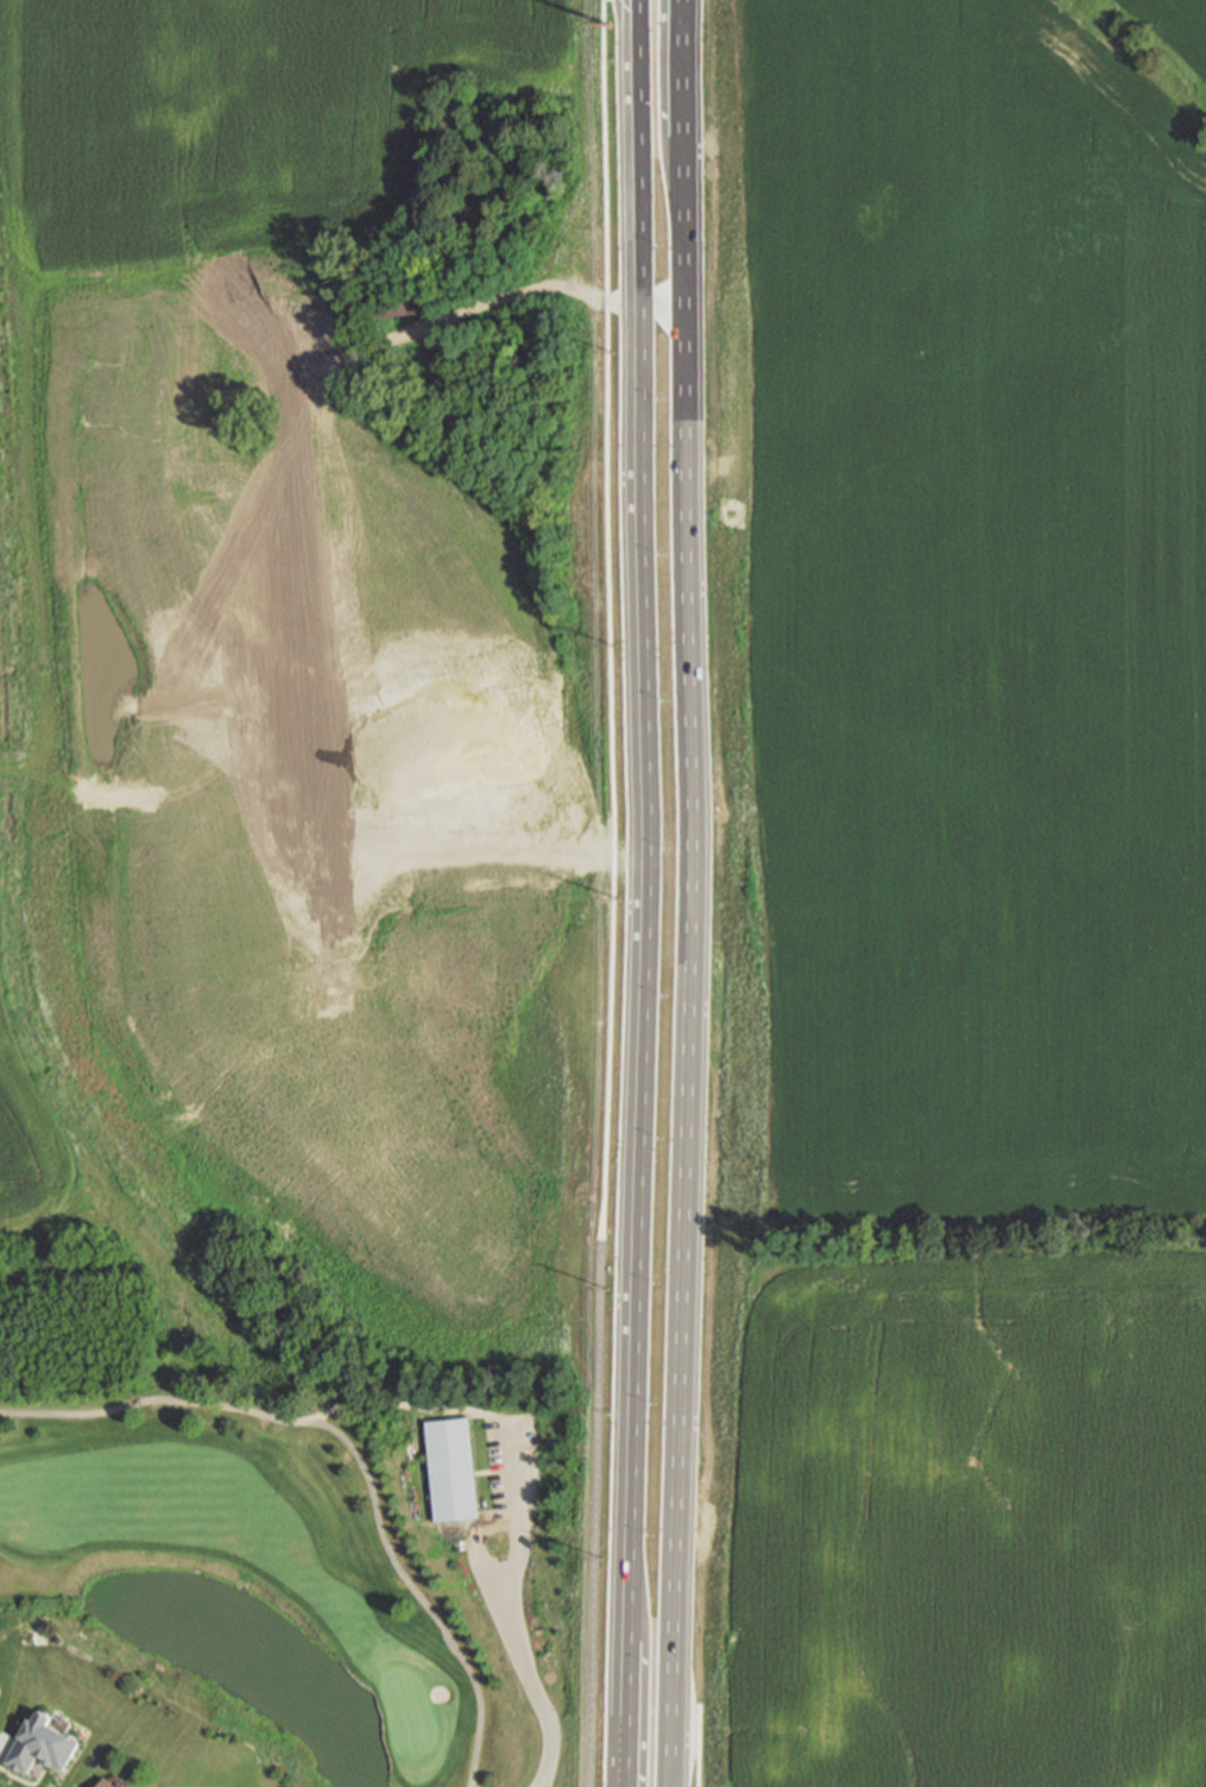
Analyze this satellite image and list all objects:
road: (686, 67)
power tower: (618, 89)
power tower: (627, 277)
road: (497, 301)
building: (399, 302)
crop: (318, 578)
road: (611, 618)
crop: (964, 627)
road: (646, 811)
road: (688, 950)
building: (853, 1344)
building: (1116, 1363)
road: (352, 1453)
building: (454, 1464)
building: (855, 1481)
building: (1111, 1504)
road: (596, 1512)
park: (320, 1578)
road: (507, 1613)
building: (842, 1625)
building: (1112, 1638)
road: (624, 1705)
park: (404, 1713)
building: (45, 1741)
building: (1123, 1762)
building: (942, 1764)
road: (664, 1776)
building: (892, 1780)
building: (113, 1782)

